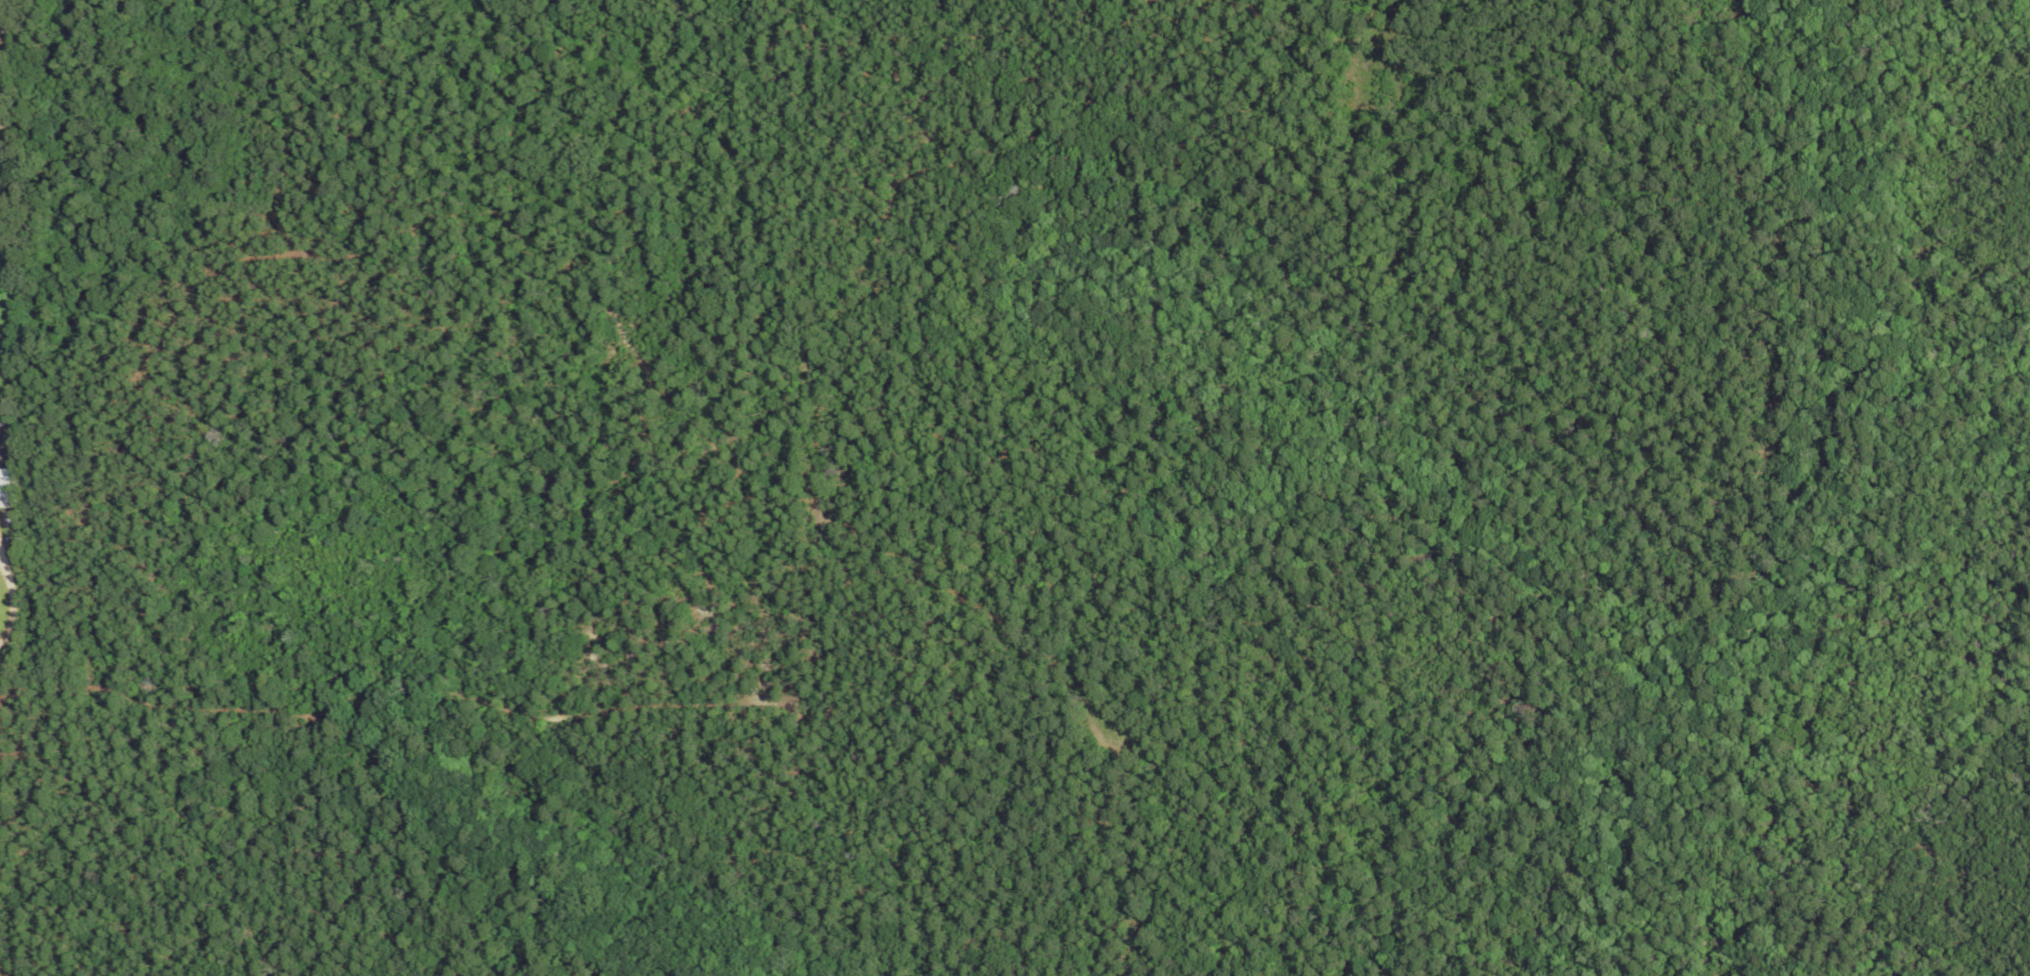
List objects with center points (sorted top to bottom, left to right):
road: (9, 597)

